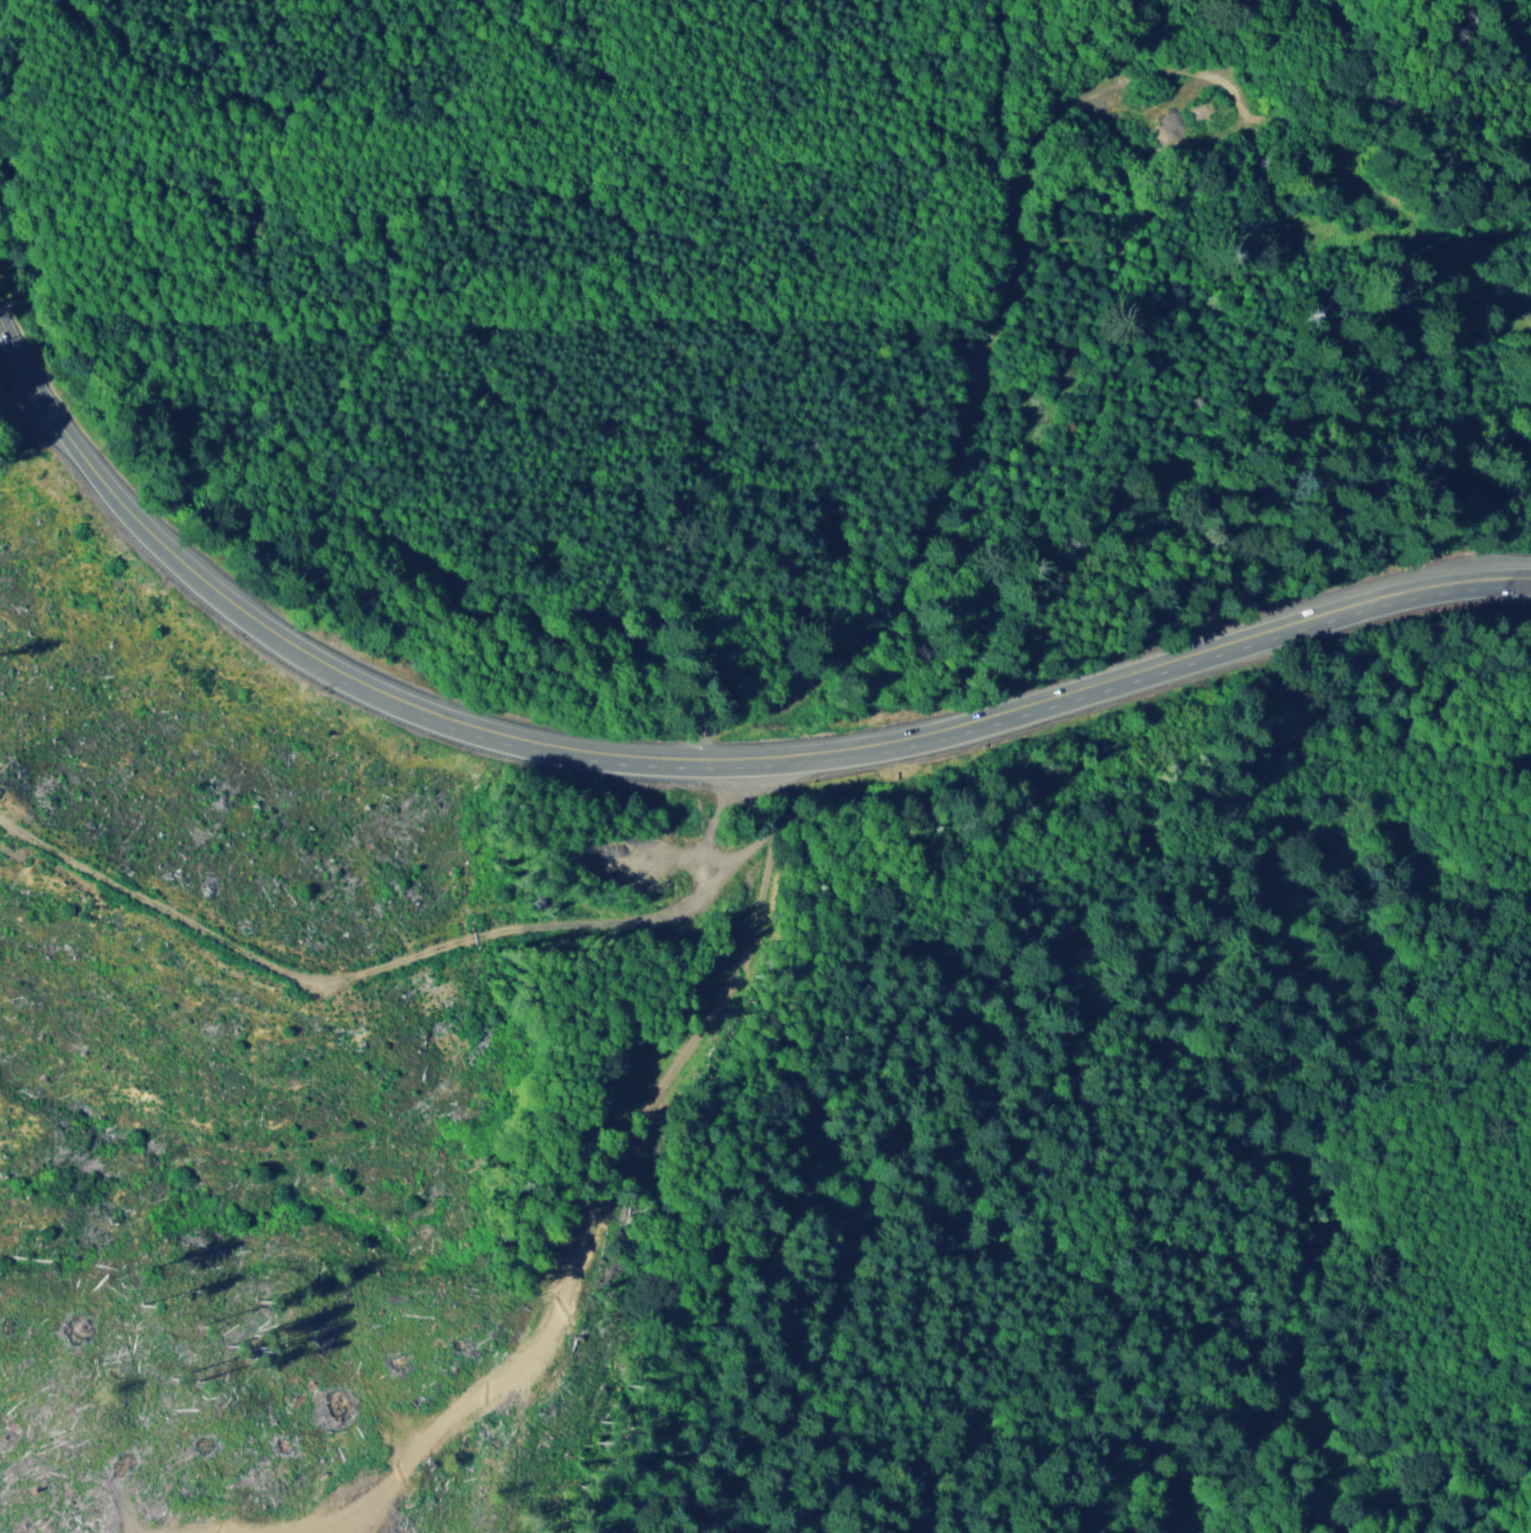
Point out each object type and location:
road: (1097, 99)
road: (47, 400)
road: (951, 432)
road: (792, 757)
road: (747, 849)

